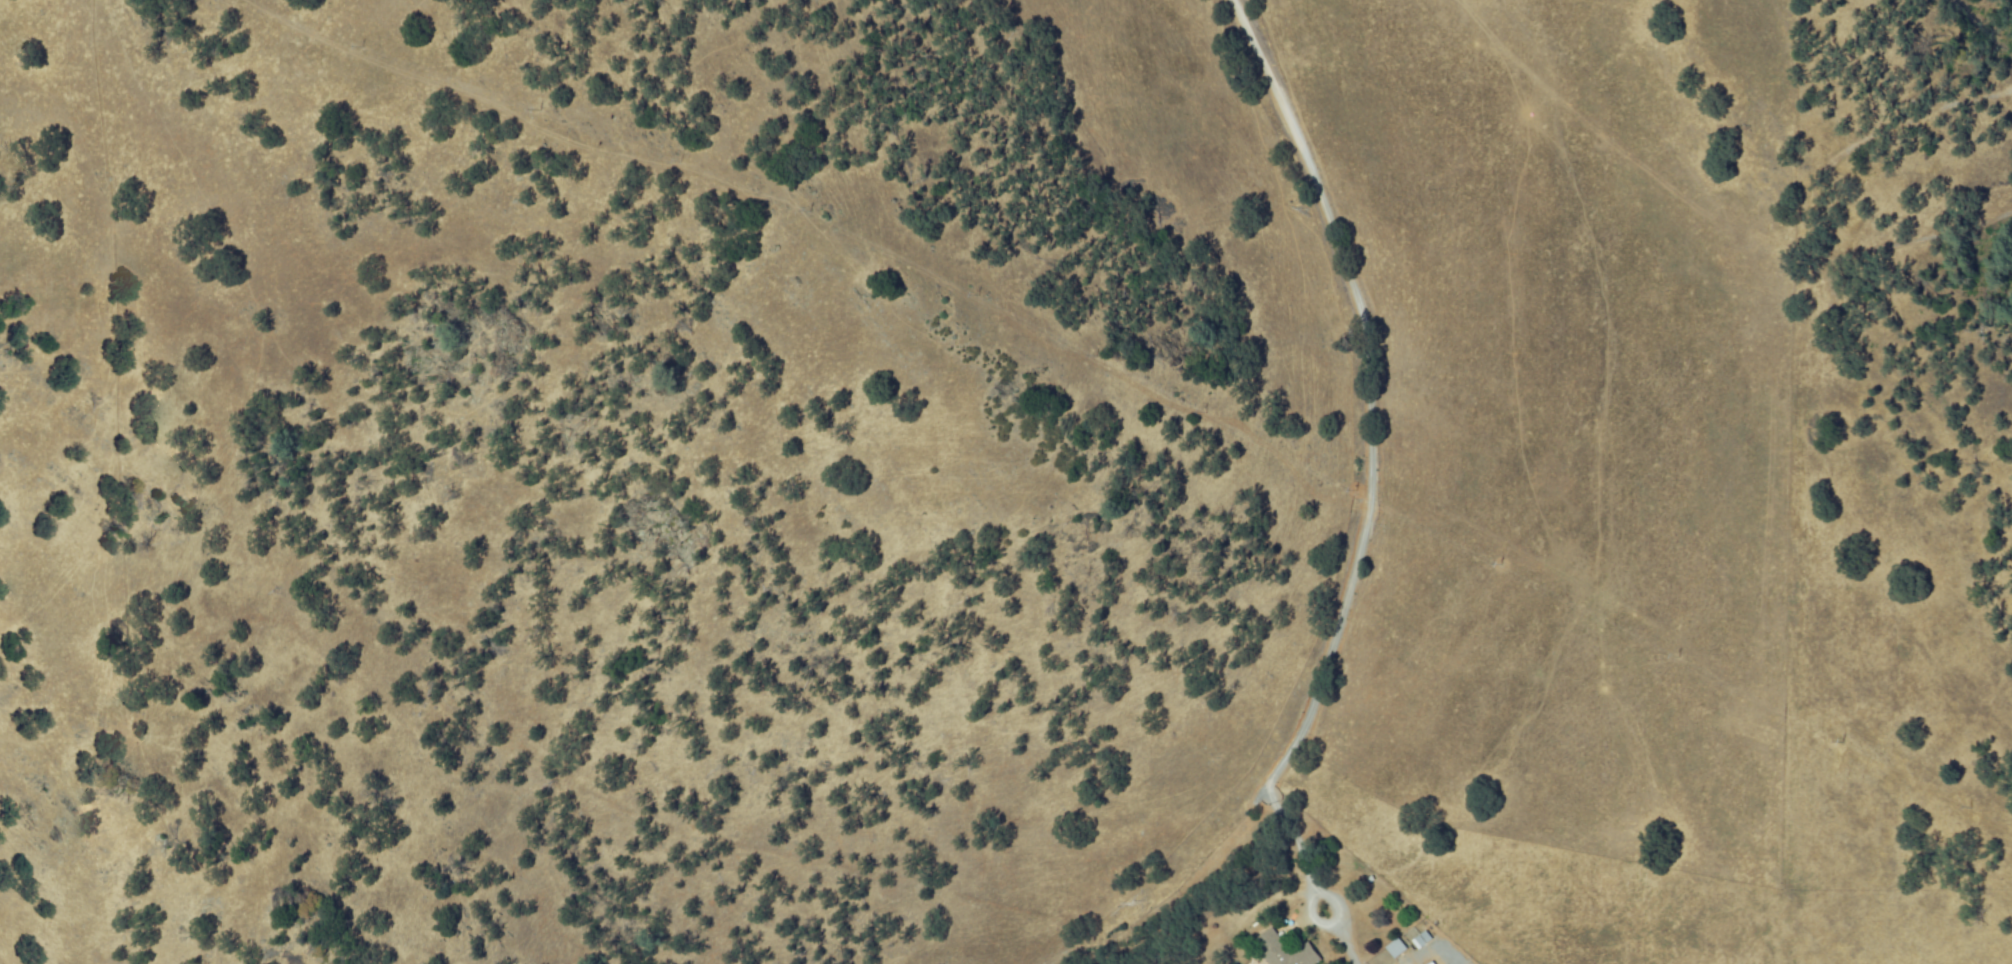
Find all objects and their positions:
road: (1371, 453)
building: (1423, 939)
building: (1397, 947)
building: (1276, 949)
building: (1433, 962)

